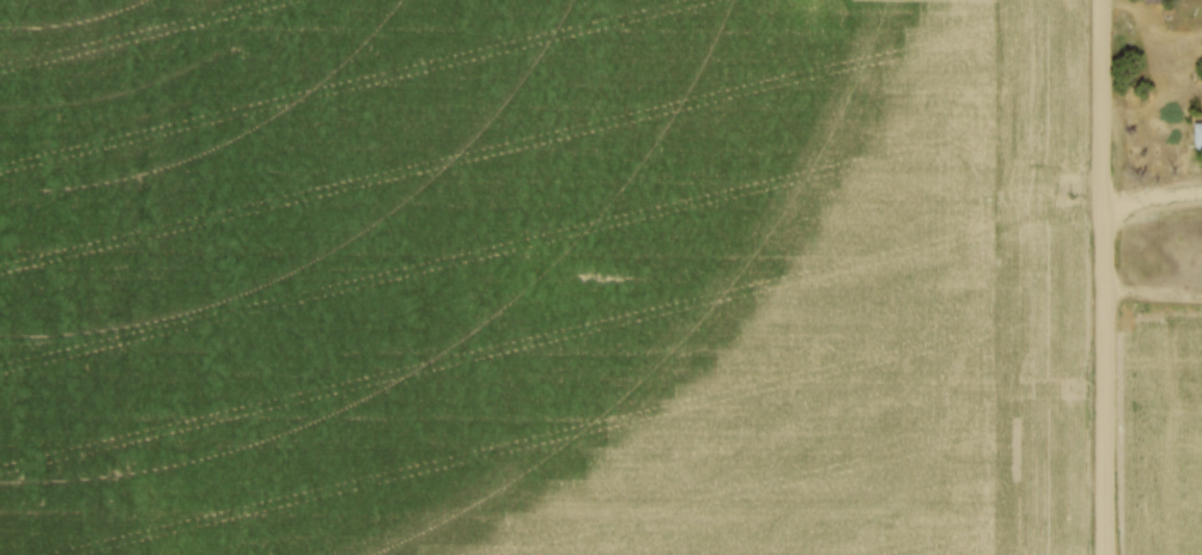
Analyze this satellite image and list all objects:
building: (1201, 136)
road: (1153, 202)
road: (1106, 276)
crop: (544, 277)
road: (1154, 299)
crop: (1176, 445)

